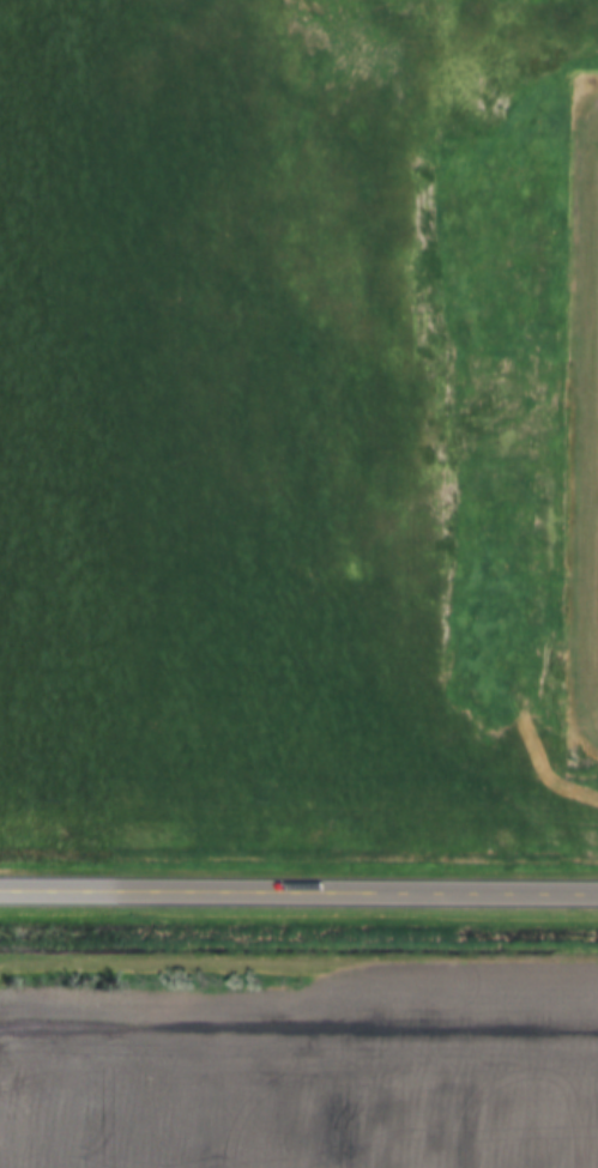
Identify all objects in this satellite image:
road: (591, 410)
road: (298, 896)

